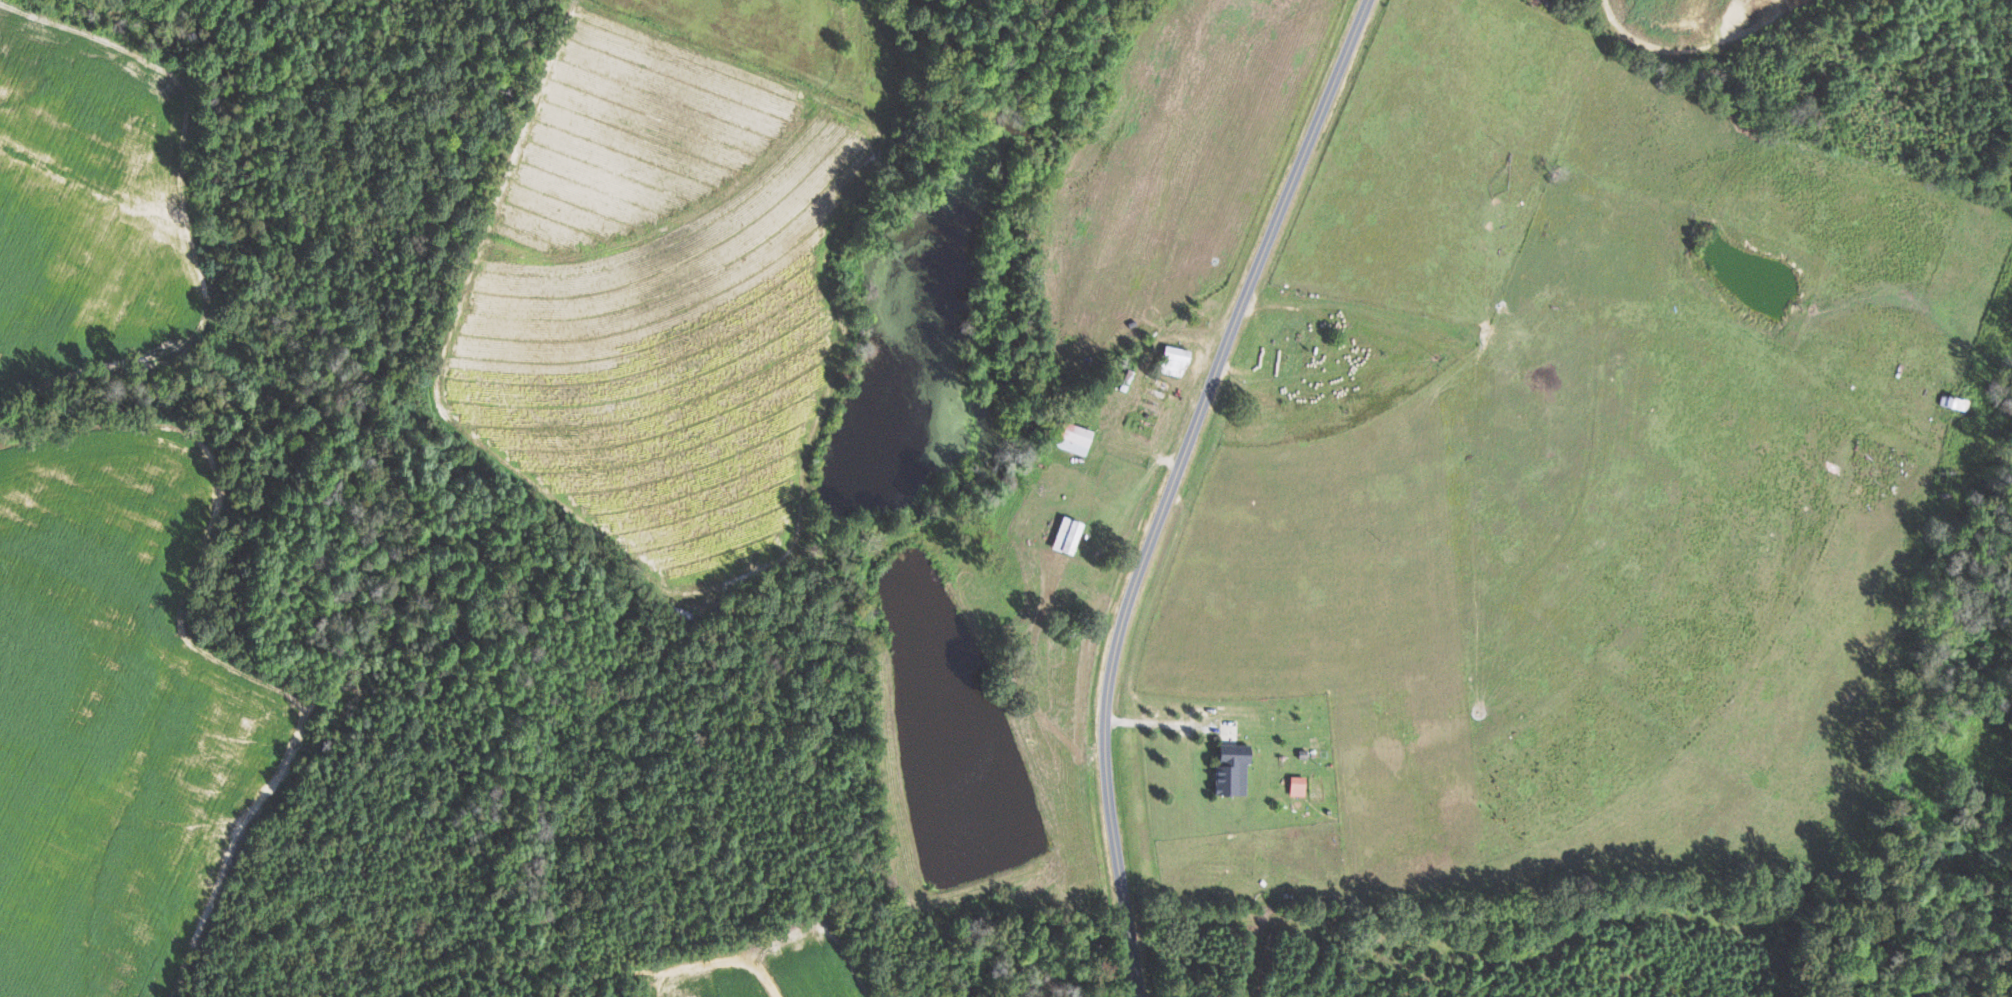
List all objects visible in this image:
building: (1172, 360)
building: (1071, 438)
road: (1172, 486)
building: (1064, 535)
road: (1156, 723)
building: (1229, 770)
building: (1295, 785)
road: (728, 959)

